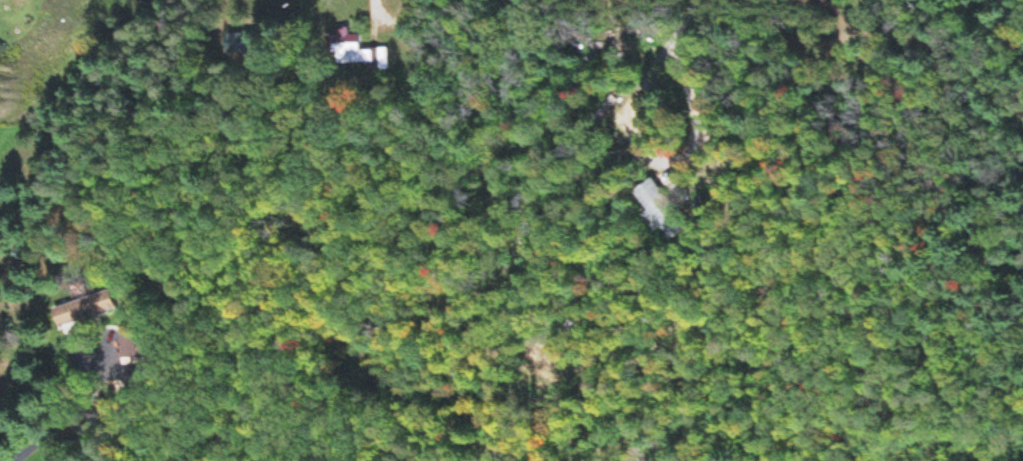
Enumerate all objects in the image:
building: (238, 45)
building: (356, 53)
building: (657, 211)
building: (83, 311)

